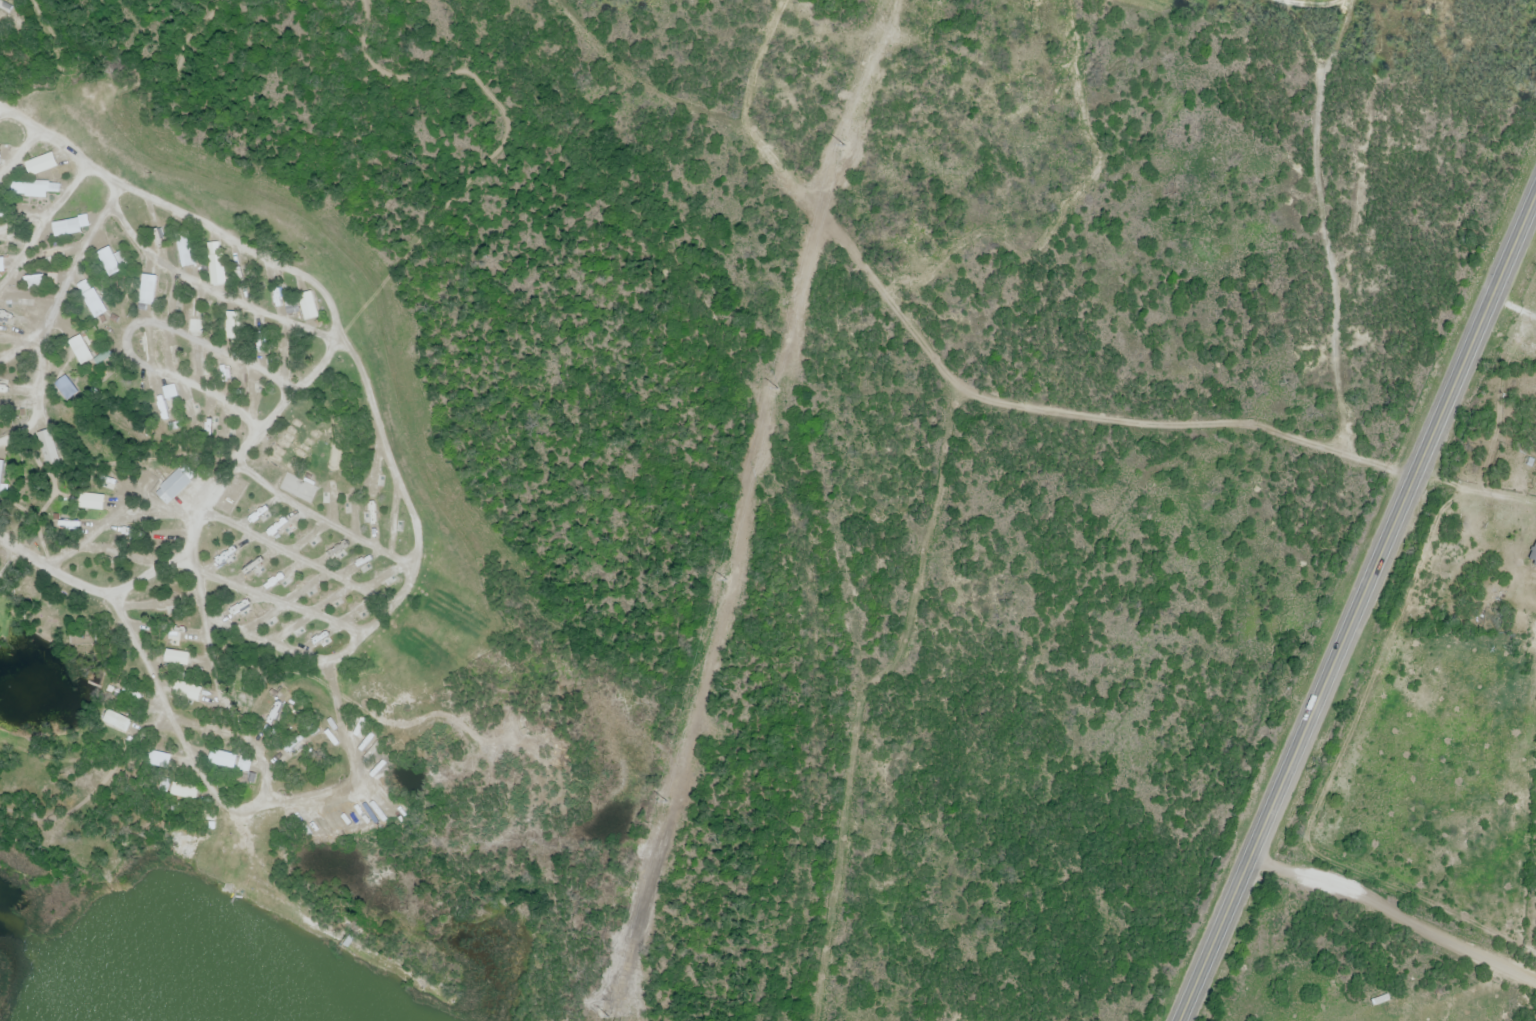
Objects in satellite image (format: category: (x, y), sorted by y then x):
road: (504, 141)
power tower: (843, 145)
road: (18, 147)
building: (0, 159)
building: (44, 162)
road: (103, 166)
building: (33, 188)
road: (19, 218)
road: (37, 221)
building: (66, 228)
building: (185, 249)
building: (52, 255)
road: (1322, 257)
building: (0, 266)
road: (65, 279)
building: (147, 290)
building: (92, 306)
building: (195, 328)
road: (149, 332)
building: (80, 351)
building: (102, 357)
power tower: (775, 388)
building: (66, 390)
road: (35, 392)
road: (370, 408)
road: (252, 439)
railway: (766, 465)
building: (0, 473)
building: (174, 485)
road: (323, 515)
road: (215, 526)
building: (1533, 555)
power tower: (724, 579)
road: (278, 599)
road: (1355, 604)
road: (148, 676)
building: (117, 722)
building: (206, 729)
building: (291, 745)
building: (226, 758)
building: (159, 761)
building: (186, 792)
power tower: (664, 802)
road: (1393, 912)
power tower: (622, 955)

